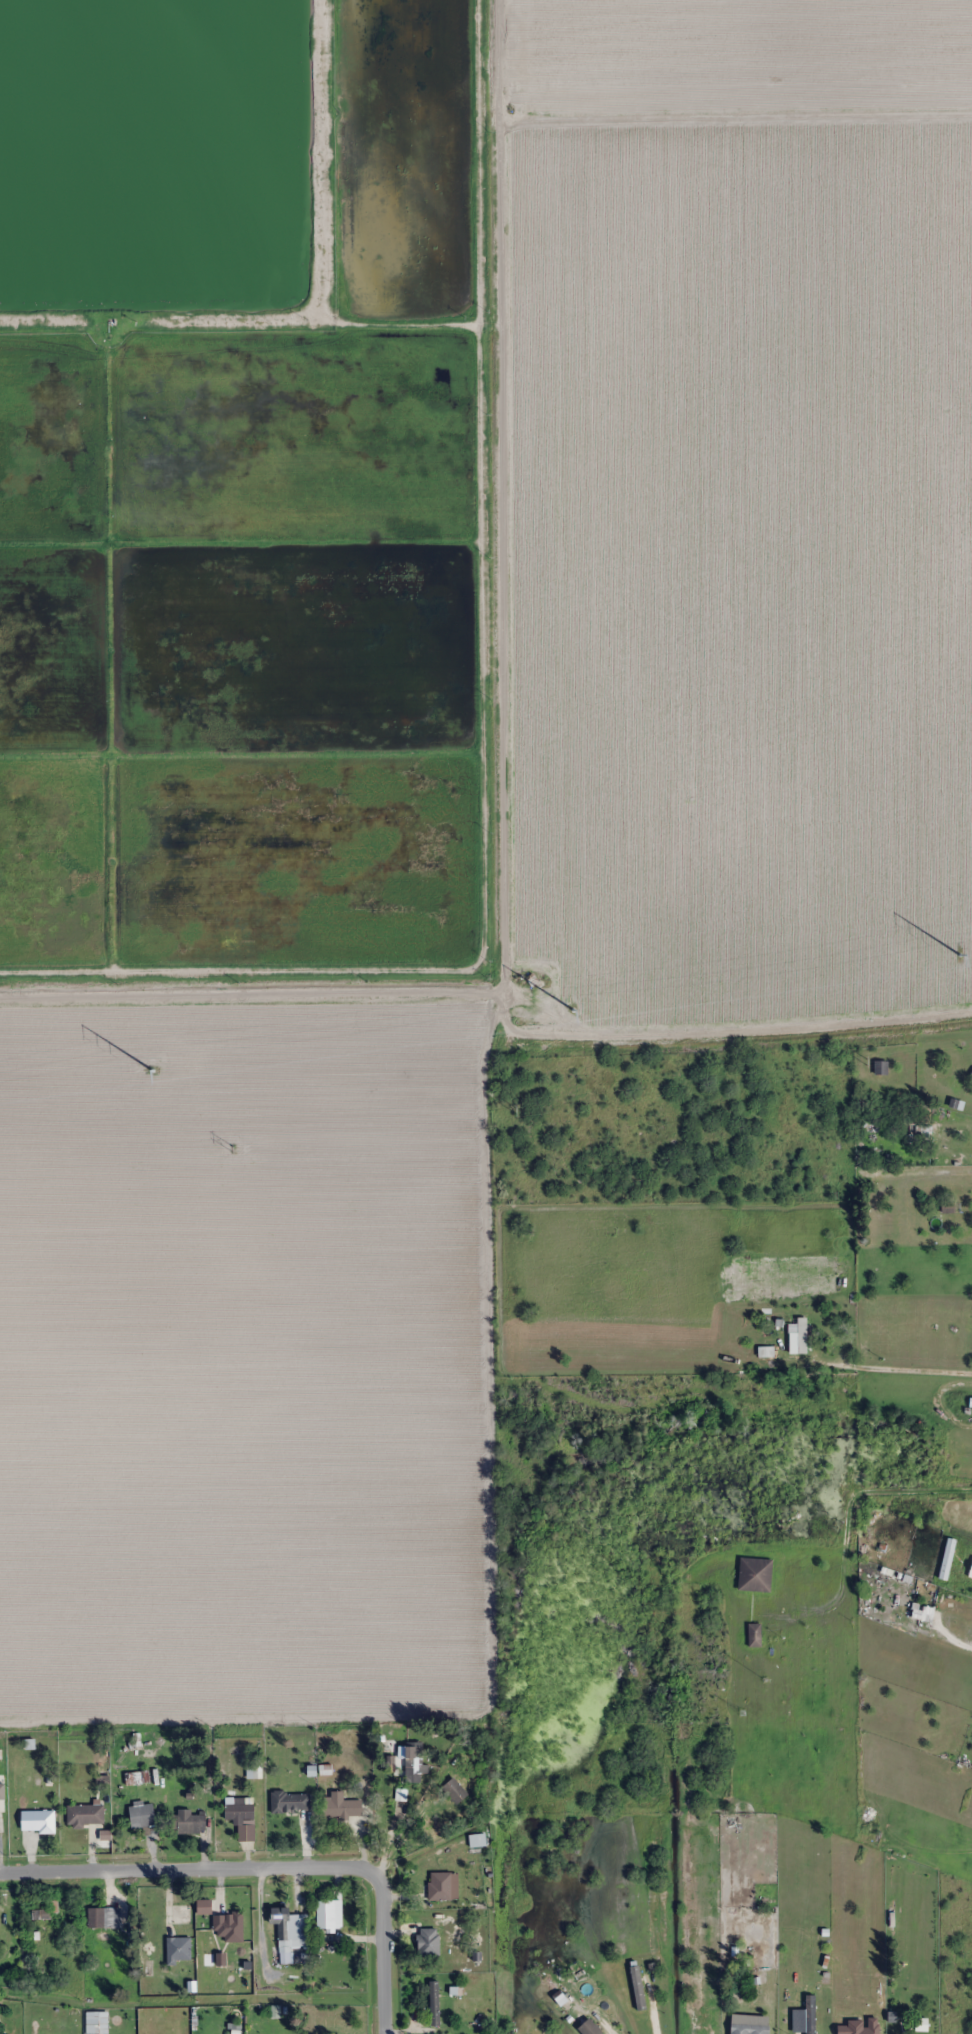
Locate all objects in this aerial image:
road: (500, 496)
power tower: (959, 955)
road: (738, 988)
road: (252, 994)
power tower: (573, 1010)
power tower: (866, 1062)
building: (881, 1067)
power tower: (152, 1069)
power tower: (515, 1110)
building: (923, 1131)
power tower: (233, 1150)
building: (802, 1334)
road: (925, 1493)
building: (755, 1573)
building: (755, 1634)
building: (413, 1762)
building: (454, 1791)
building: (290, 1802)
building: (341, 1806)
building: (85, 1814)
building: (141, 1816)
building: (242, 1816)
building: (39, 1820)
building: (188, 1821)
road: (268, 1867)
building: (440, 1886)
building: (41, 1913)
building: (328, 1913)
building: (102, 1917)
building: (228, 1926)
building: (290, 1927)
building: (429, 1941)
building: (178, 1949)
building: (841, 1965)
building: (638, 1987)
building: (434, 2004)
building: (806, 2016)
building: (590, 2027)
building: (750, 2029)

